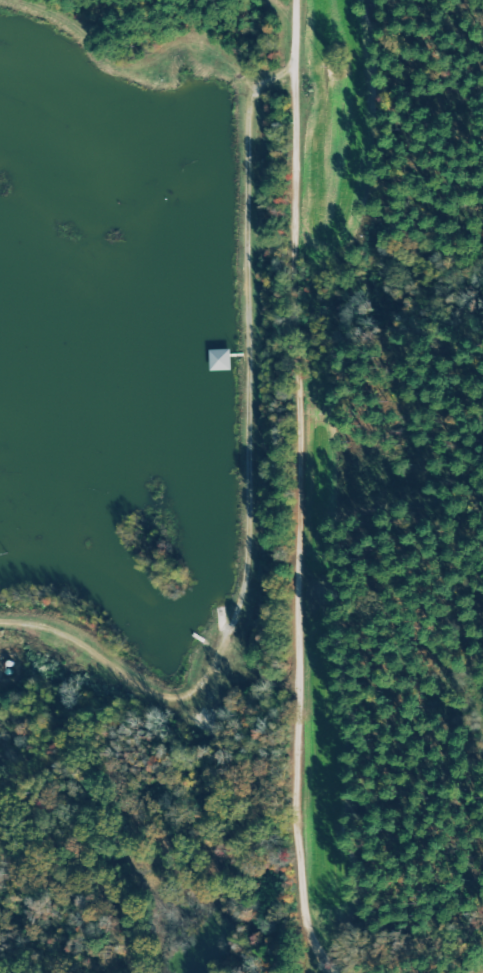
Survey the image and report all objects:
building: (223, 358)

